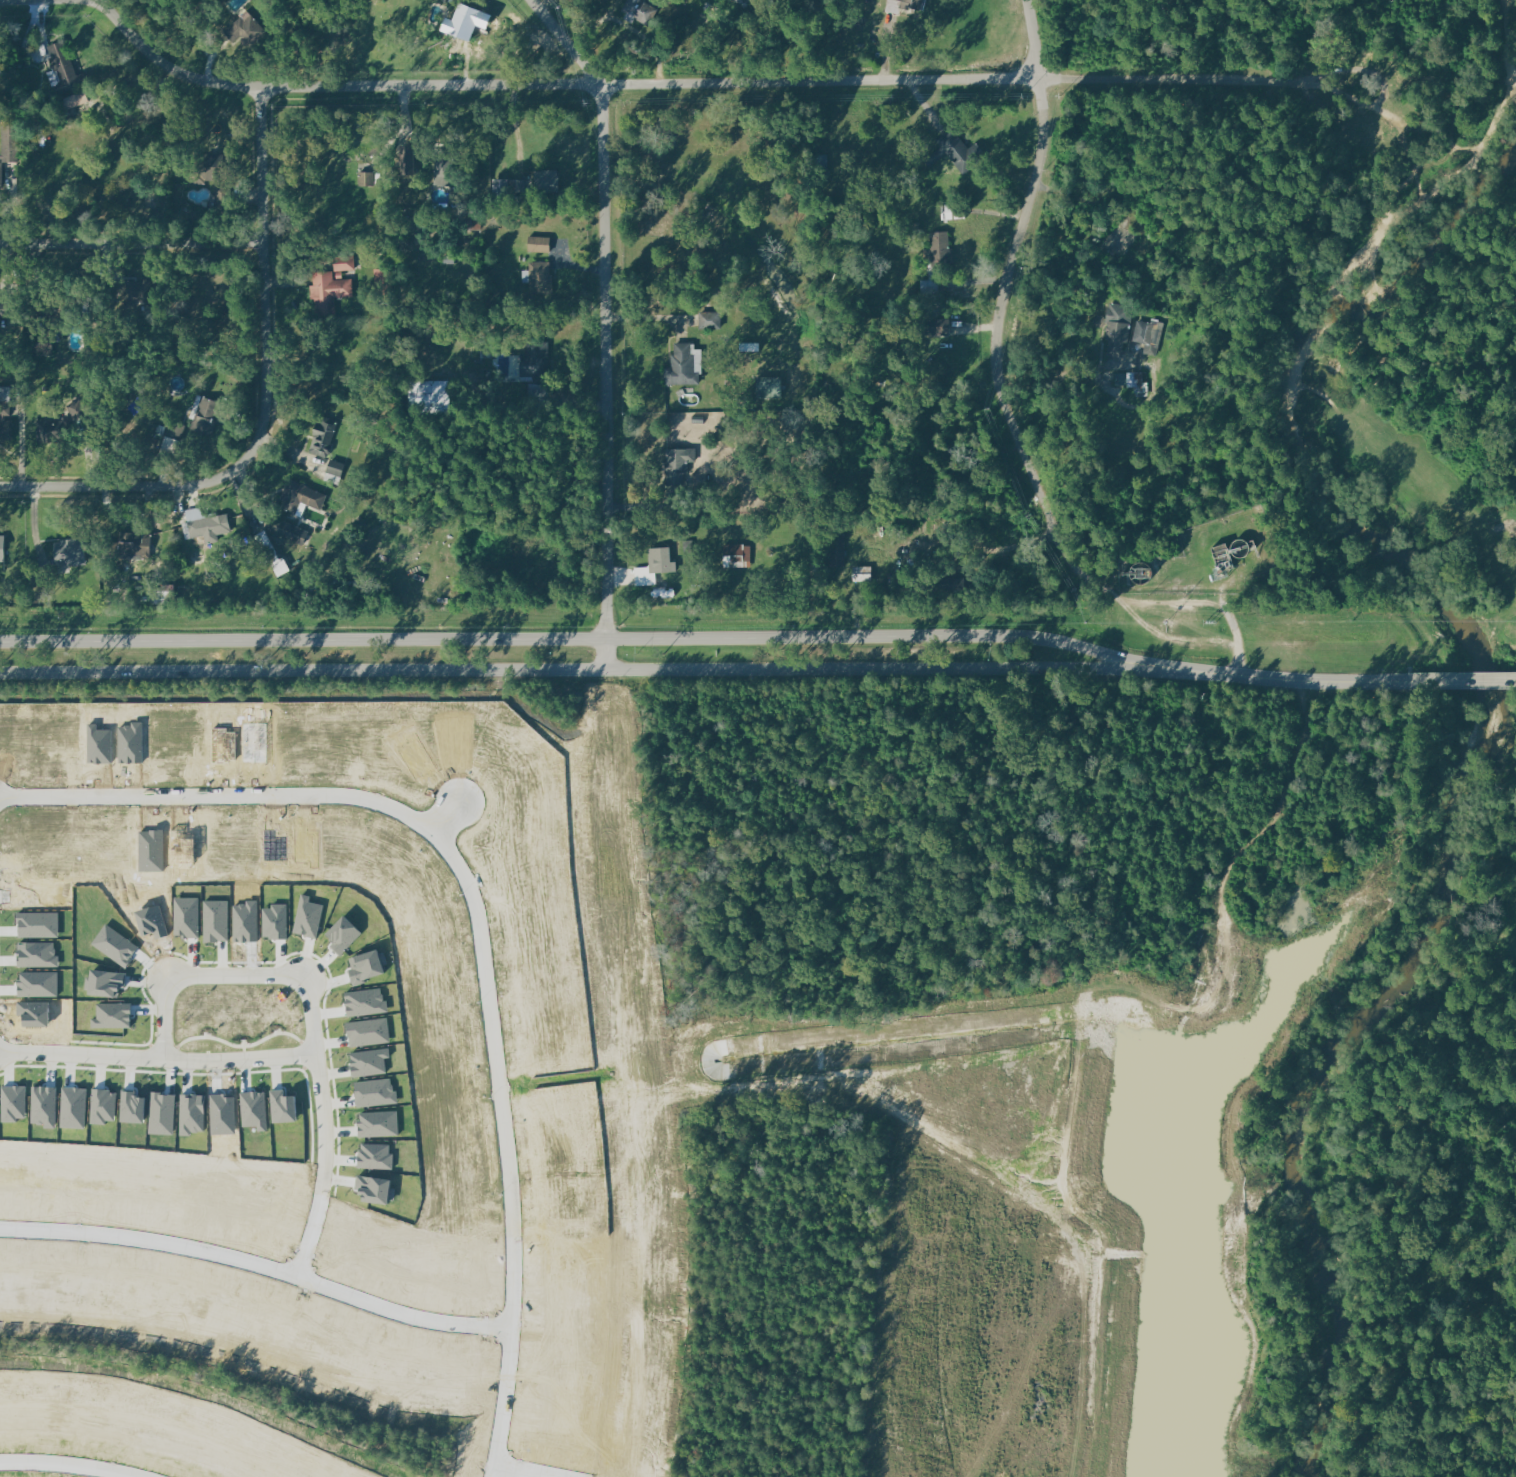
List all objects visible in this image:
building: (914, 3)
building: (471, 20)
building: (67, 69)
road: (688, 82)
building: (76, 99)
road: (922, 101)
building: (11, 143)
building: (960, 151)
building: (409, 156)
building: (444, 166)
building: (211, 168)
building: (1, 174)
building: (366, 177)
building: (545, 180)
building: (225, 199)
road: (1080, 199)
building: (954, 211)
building: (540, 244)
road: (130, 245)
building: (942, 249)
building: (345, 263)
road: (262, 276)
building: (540, 280)
building: (384, 281)
building: (930, 285)
building: (138, 290)
building: (329, 291)
building: (6, 308)
building: (2, 317)
building: (710, 319)
road: (603, 322)
building: (936, 326)
building: (1118, 326)
building: (1146, 331)
building: (536, 361)
building: (681, 366)
building: (1132, 383)
building: (770, 387)
road: (1002, 392)
building: (437, 393)
building: (5, 401)
building: (78, 410)
building: (211, 413)
building: (6, 428)
building: (53, 430)
building: (323, 435)
building: (173, 440)
building: (679, 464)
building: (336, 469)
road: (127, 486)
building: (302, 496)
building: (211, 525)
building: (289, 530)
building: (137, 542)
building: (688, 547)
building: (2, 548)
building: (837, 549)
building: (71, 552)
building: (274, 555)
building: (738, 555)
building: (661, 560)
building: (864, 573)
building: (645, 578)
building: (949, 584)
road: (1236, 623)
road: (620, 639)
road: (618, 671)
road: (1466, 680)
road: (1326, 682)
river: (1474, 747)
road: (221, 791)
road: (451, 804)
road: (237, 970)
road: (166, 1017)
road: (157, 1057)
road: (642, 1074)
road: (324, 1126)
road: (508, 1146)
road: (258, 1265)
road: (78, 1461)
road: (518, 1472)

